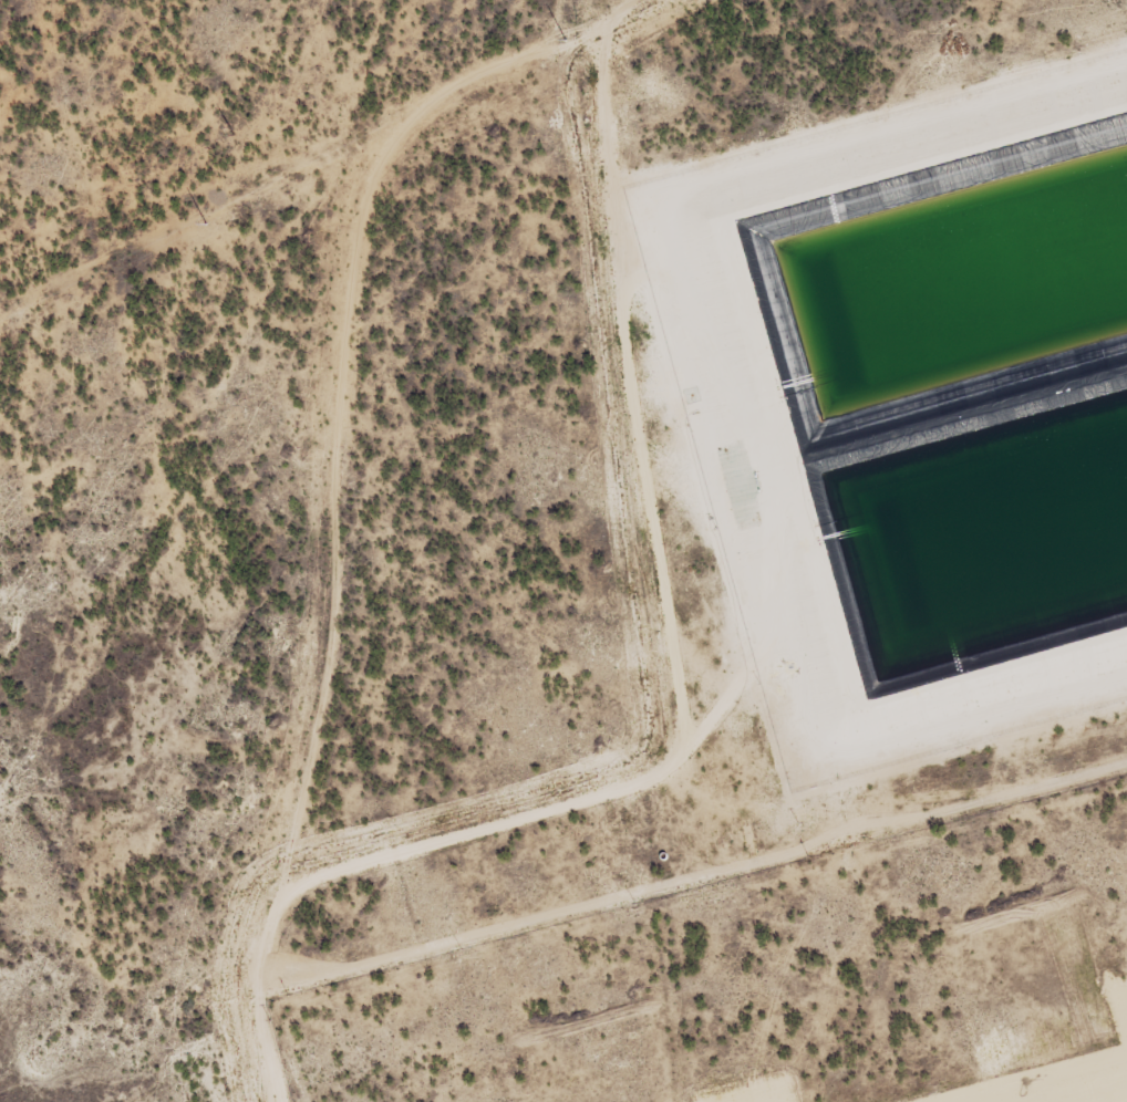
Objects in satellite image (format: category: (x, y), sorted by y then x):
power tower: (565, 40)
power tower: (231, 128)
power tower: (206, 222)

